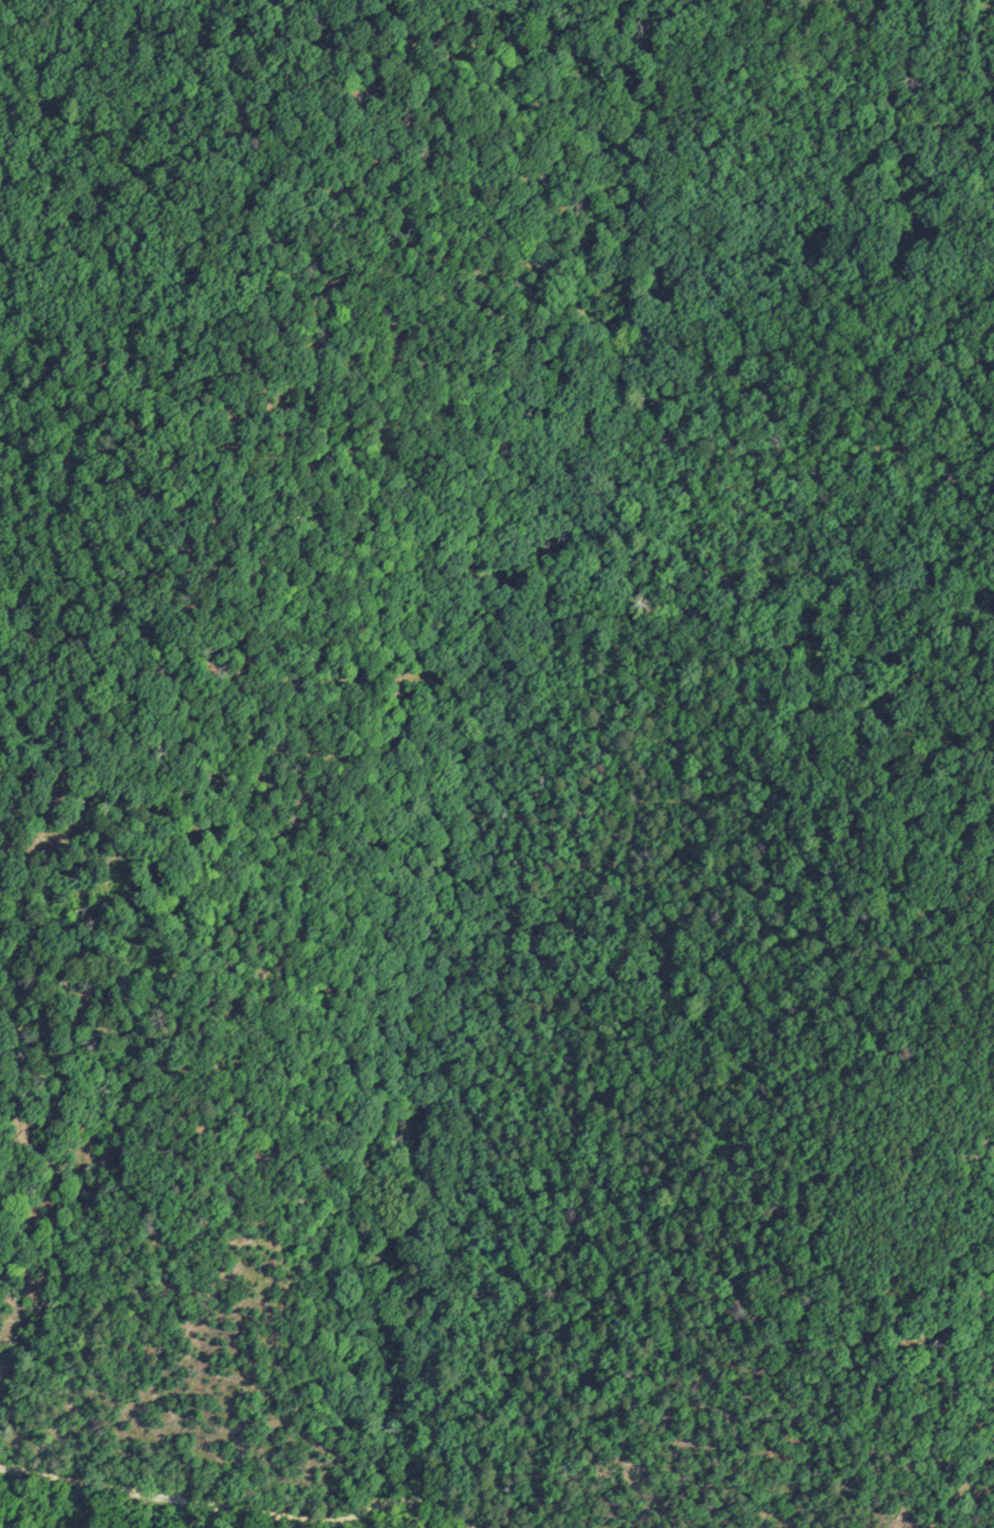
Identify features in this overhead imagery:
road: (236, 1510)

